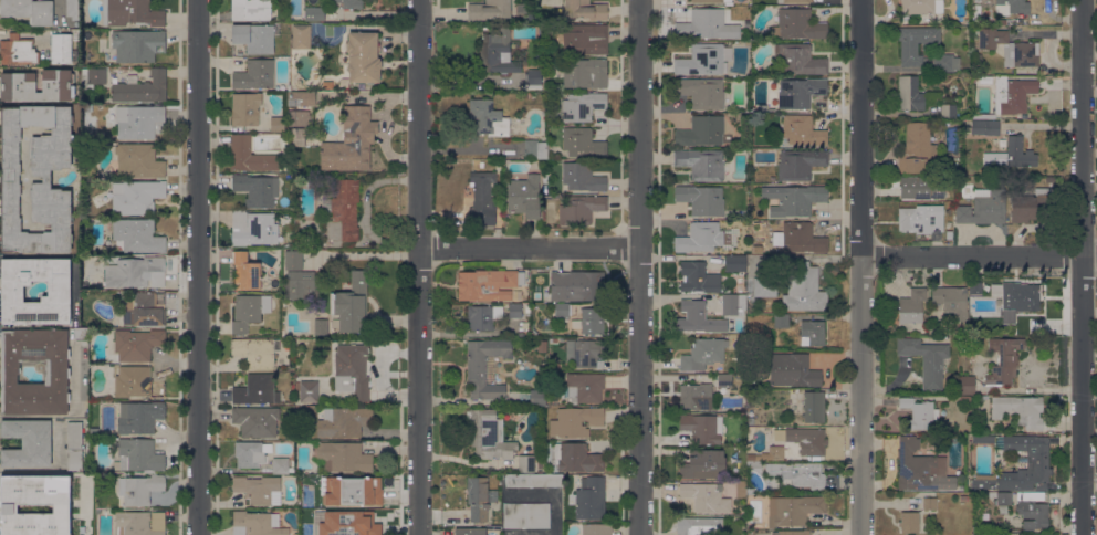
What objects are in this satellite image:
building: (714, 1)
building: (797, 1)
building: (347, 3)
building: (921, 6)
building: (1011, 7)
building: (72, 9)
building: (489, 9)
building: (251, 10)
building: (585, 10)
building: (975, 10)
building: (29, 11)
building: (130, 12)
building: (313, 13)
building: (905, 17)
building: (1003, 22)
building: (746, 24)
building: (797, 24)
building: (706, 25)
building: (75, 34)
building: (254, 36)
building: (301, 36)
building: (581, 38)
building: (916, 43)
building: (137, 44)
building: (1010, 48)
building: (62, 49)
building: (18, 51)
building: (497, 54)
building: (362, 56)
building: (976, 57)
building: (798, 59)
building: (701, 60)
building: (945, 63)
building: (582, 71)
building: (254, 74)
building: (92, 76)
building: (533, 81)
building: (18, 85)
building: (140, 87)
building: (701, 92)
building: (802, 93)
building: (909, 93)
building: (1012, 94)
building: (301, 98)
building: (582, 106)
building: (86, 107)
building: (245, 108)
building: (948, 111)
building: (983, 116)
building: (297, 118)
building: (488, 118)
building: (139, 122)
building: (276, 124)
building: (985, 127)
building: (701, 130)
building: (802, 130)
building: (351, 141)
building: (582, 143)
building: (534, 147)
building: (916, 148)
building: (1011, 154)
building: (250, 156)
building: (138, 160)
building: (701, 164)
building: (800, 164)
building: (582, 177)
building: (9, 179)
building: (921, 187)
building: (257, 189)
building: (1047, 191)
building: (524, 196)
building: (136, 197)
building: (701, 199)
building: (794, 199)
building: (482, 200)
building: (96, 201)
building: (983, 207)
building: (346, 208)
building: (579, 209)
building: (1027, 209)
building: (921, 218)
building: (253, 229)
building: (136, 235)
building: (701, 237)
building: (803, 238)
road: (533, 251)
road: (978, 254)
building: (734, 263)
road: (1080, 266)
road: (200, 267)
road: (425, 267)
road: (640, 267)
road: (859, 267)
building: (244, 271)
building: (135, 272)
building: (698, 277)
building: (297, 279)
building: (490, 284)
building: (576, 285)
building: (991, 286)
building: (804, 289)
building: (975, 289)
building: (759, 290)
building: (56, 292)
building: (1021, 296)
building: (952, 301)
building: (351, 304)
building: (733, 304)
building: (912, 305)
building: (526, 310)
building: (561, 310)
building: (144, 311)
building: (249, 311)
building: (514, 311)
building: (484, 317)
building: (699, 317)
building: (589, 321)
building: (781, 321)
building: (318, 326)
building: (812, 333)
building: (81, 334)
building: (136, 344)
building: (542, 346)
building: (965, 348)
building: (257, 352)
building: (588, 353)
building: (703, 354)
building: (570, 355)
building: (926, 360)
building: (1003, 360)
building: (485, 367)
building: (352, 370)
building: (793, 370)
building: (58, 371)
building: (724, 380)
building: (137, 382)
building: (965, 385)
building: (583, 387)
building: (255, 390)
building: (307, 391)
building: (537, 397)
building: (697, 397)
building: (964, 397)
building: (814, 406)
building: (1020, 409)
building: (920, 413)
building: (139, 417)
building: (750, 420)
building: (255, 421)
building: (343, 421)
building: (575, 421)
building: (702, 428)
building: (93, 432)
building: (489, 436)
building: (807, 440)
building: (27, 443)
building: (74, 448)
building: (775, 452)
building: (251, 453)
building: (139, 454)
building: (342, 457)
building: (575, 458)
building: (525, 463)
building: (1017, 463)
building: (280, 464)
building: (539, 464)
building: (702, 464)
building: (753, 465)
building: (921, 469)
building: (797, 474)
building: (534, 481)
building: (259, 489)
building: (140, 490)
building: (349, 490)
building: (750, 491)
building: (704, 496)
building: (479, 497)
building: (589, 497)
building: (963, 497)
building: (571, 500)
building: (1001, 501)
building: (929, 503)
building: (114, 504)
building: (356, 505)
building: (8, 508)
building: (793, 510)
building: (1032, 510)
building: (526, 515)
building: (909, 522)
building: (257, 523)
building: (347, 523)
building: (1000, 523)
building: (135, 524)
building: (699, 526)
building: (975, 528)
building: (596, 529)
building: (469, 531)
building: (791, 532)
building: (296, 534)
building: (1011, 534)

